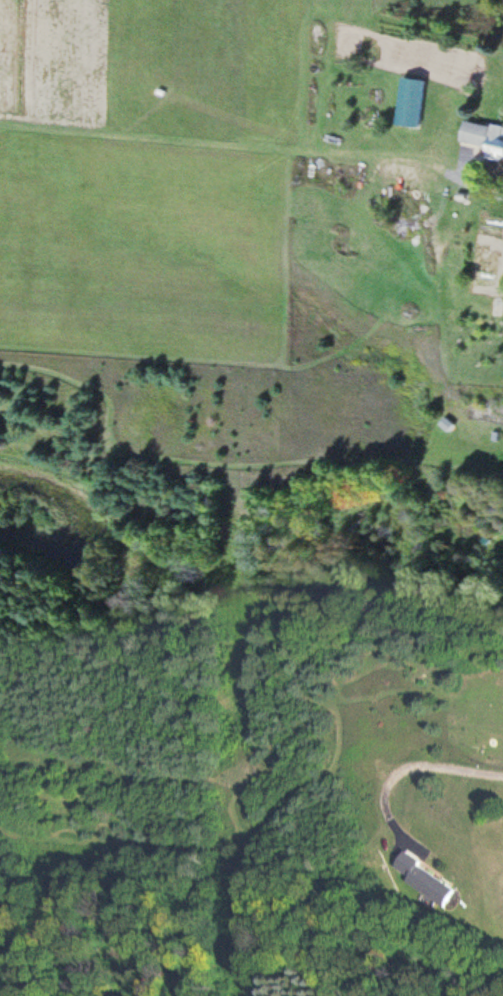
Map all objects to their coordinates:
building: (413, 103)
building: (485, 137)
building: (428, 879)

